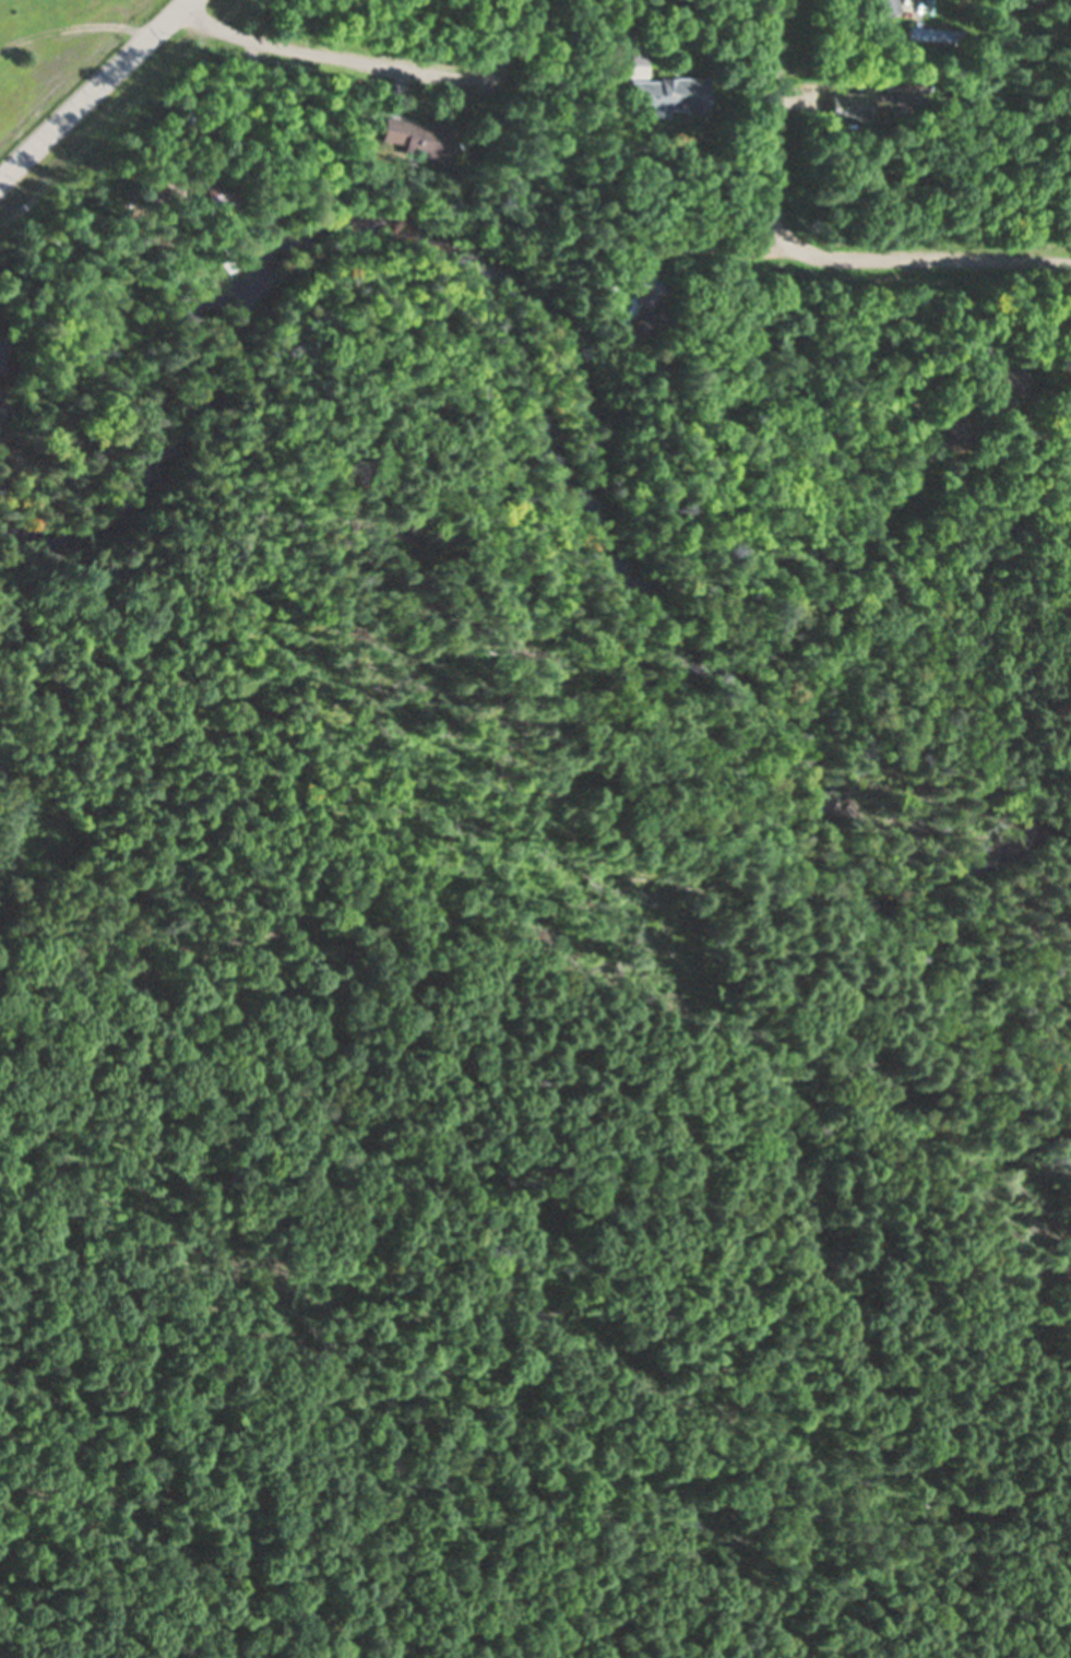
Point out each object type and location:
building: (882, 7)
building: (928, 33)
road: (325, 56)
road: (91, 86)
building: (665, 96)
building: (592, 105)
building: (844, 106)
building: (414, 138)
building: (216, 194)
road: (805, 251)
building: (643, 298)
building: (631, 325)
building: (962, 359)
building: (1005, 380)
river: (587, 400)
building: (945, 427)

